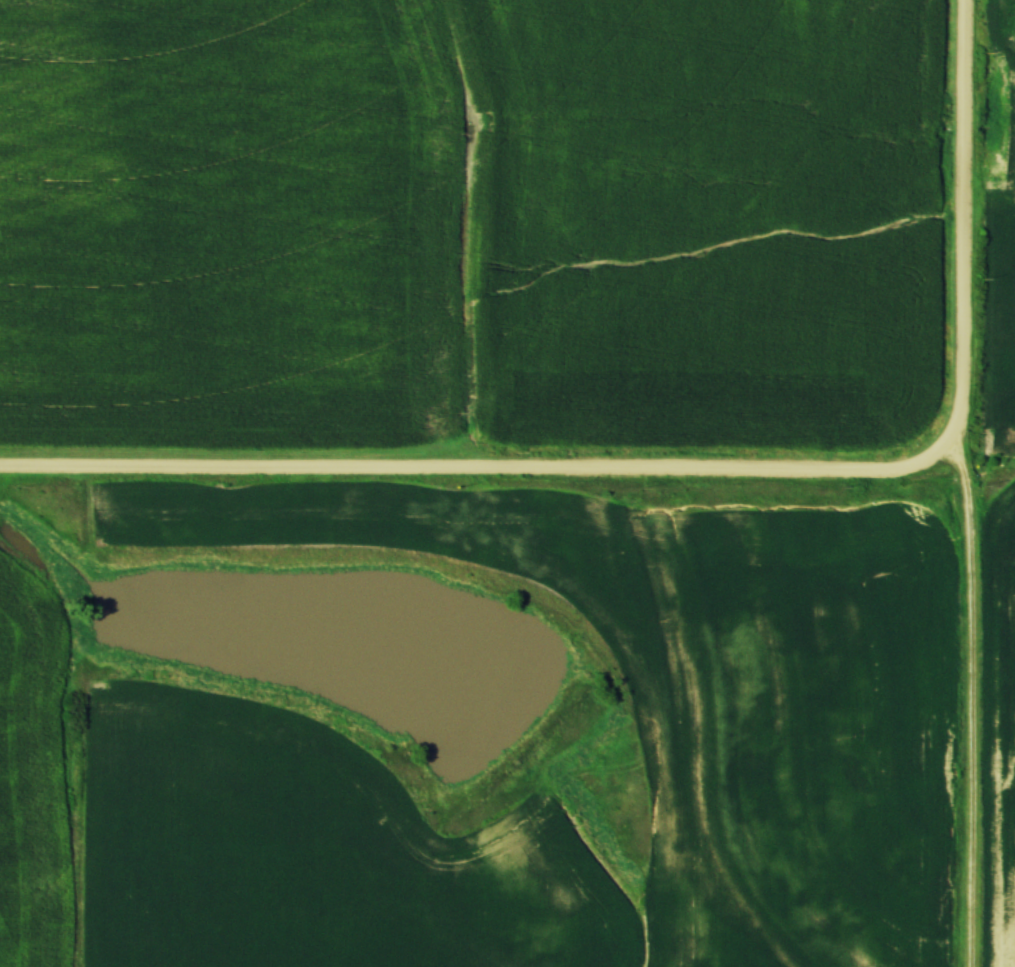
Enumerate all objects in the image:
road: (964, 240)
road: (462, 465)
road: (972, 706)

